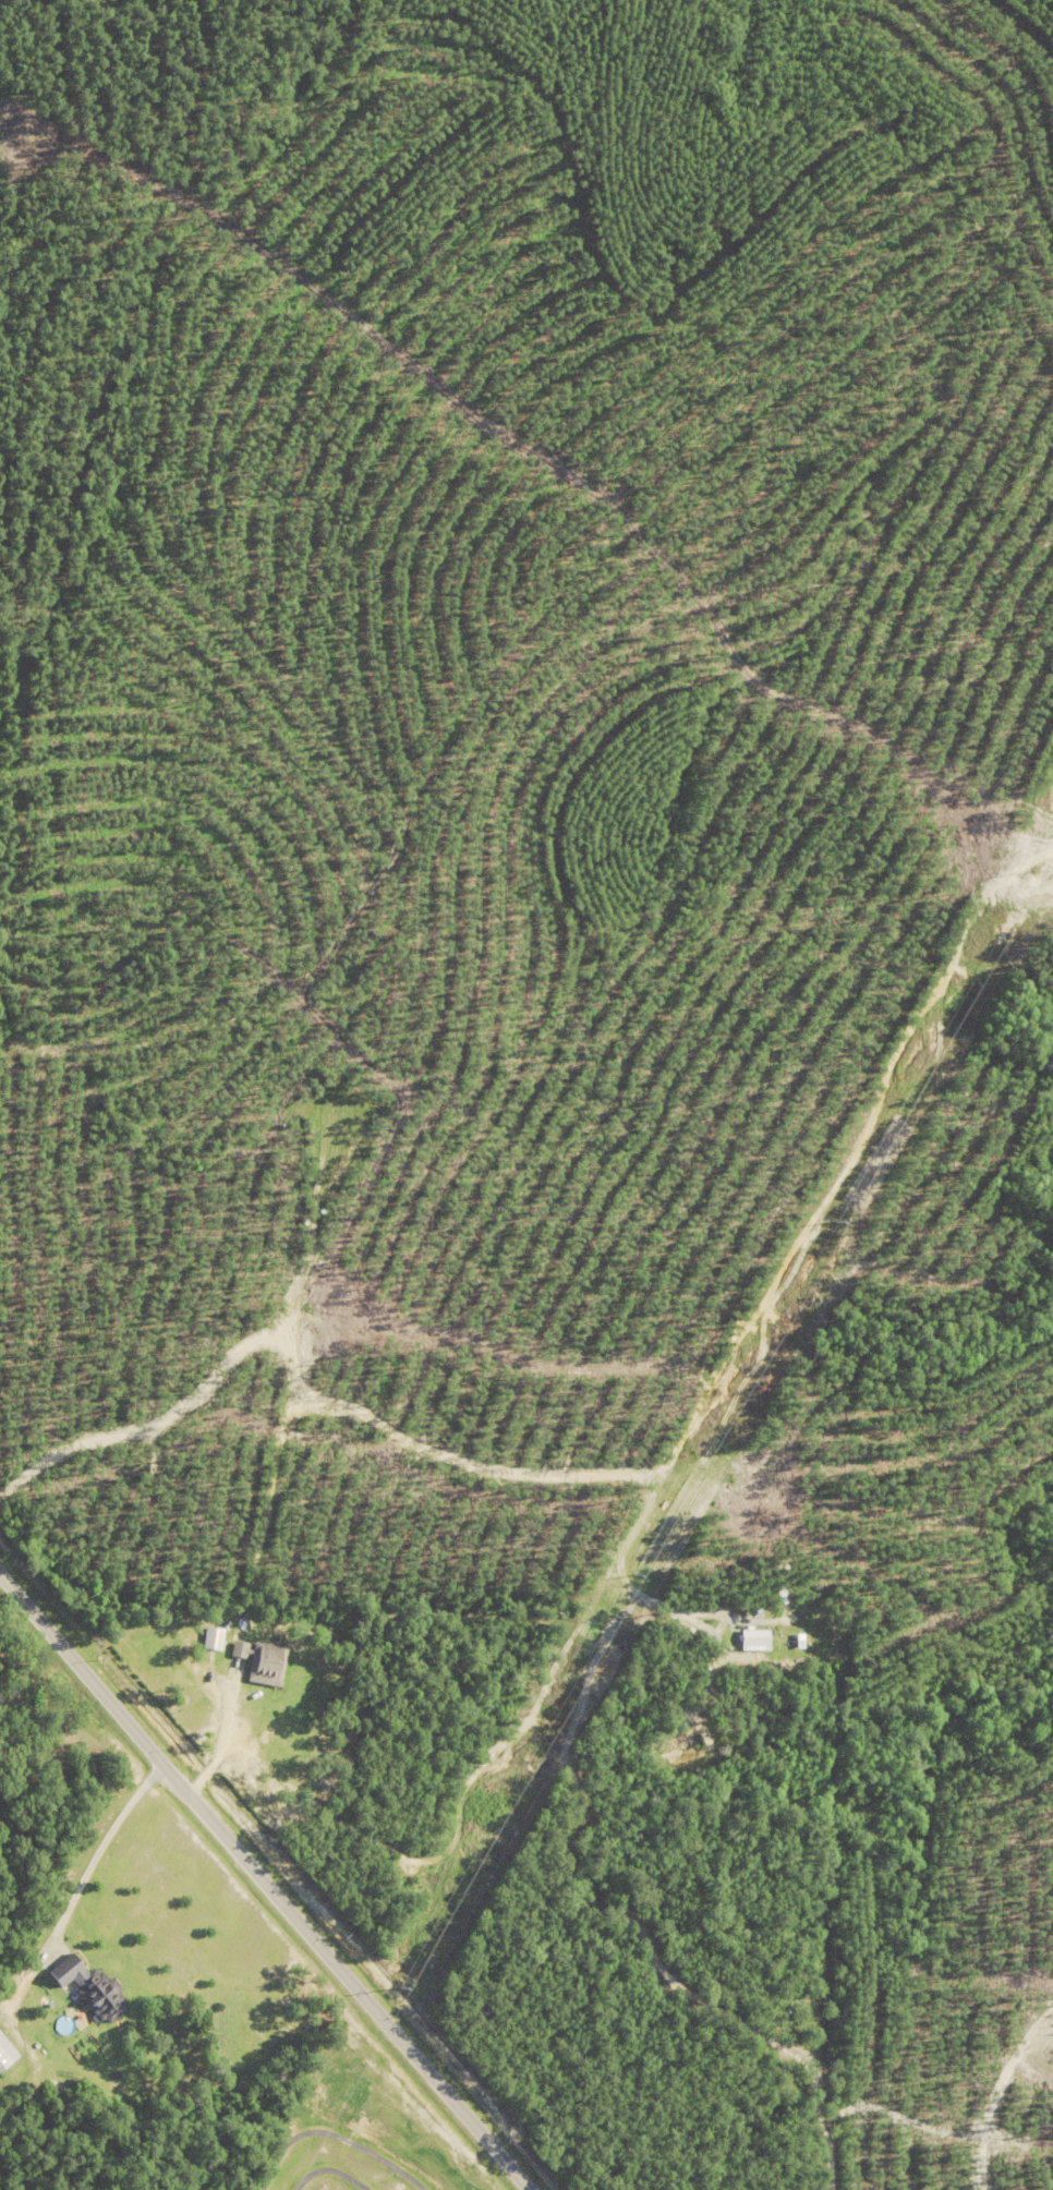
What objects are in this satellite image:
building: (211, 1638)
building: (751, 1640)
building: (237, 1648)
building: (264, 1663)
road: (223, 1742)
road: (95, 1858)
road: (264, 1883)
building: (85, 1988)
building: (5, 2054)

